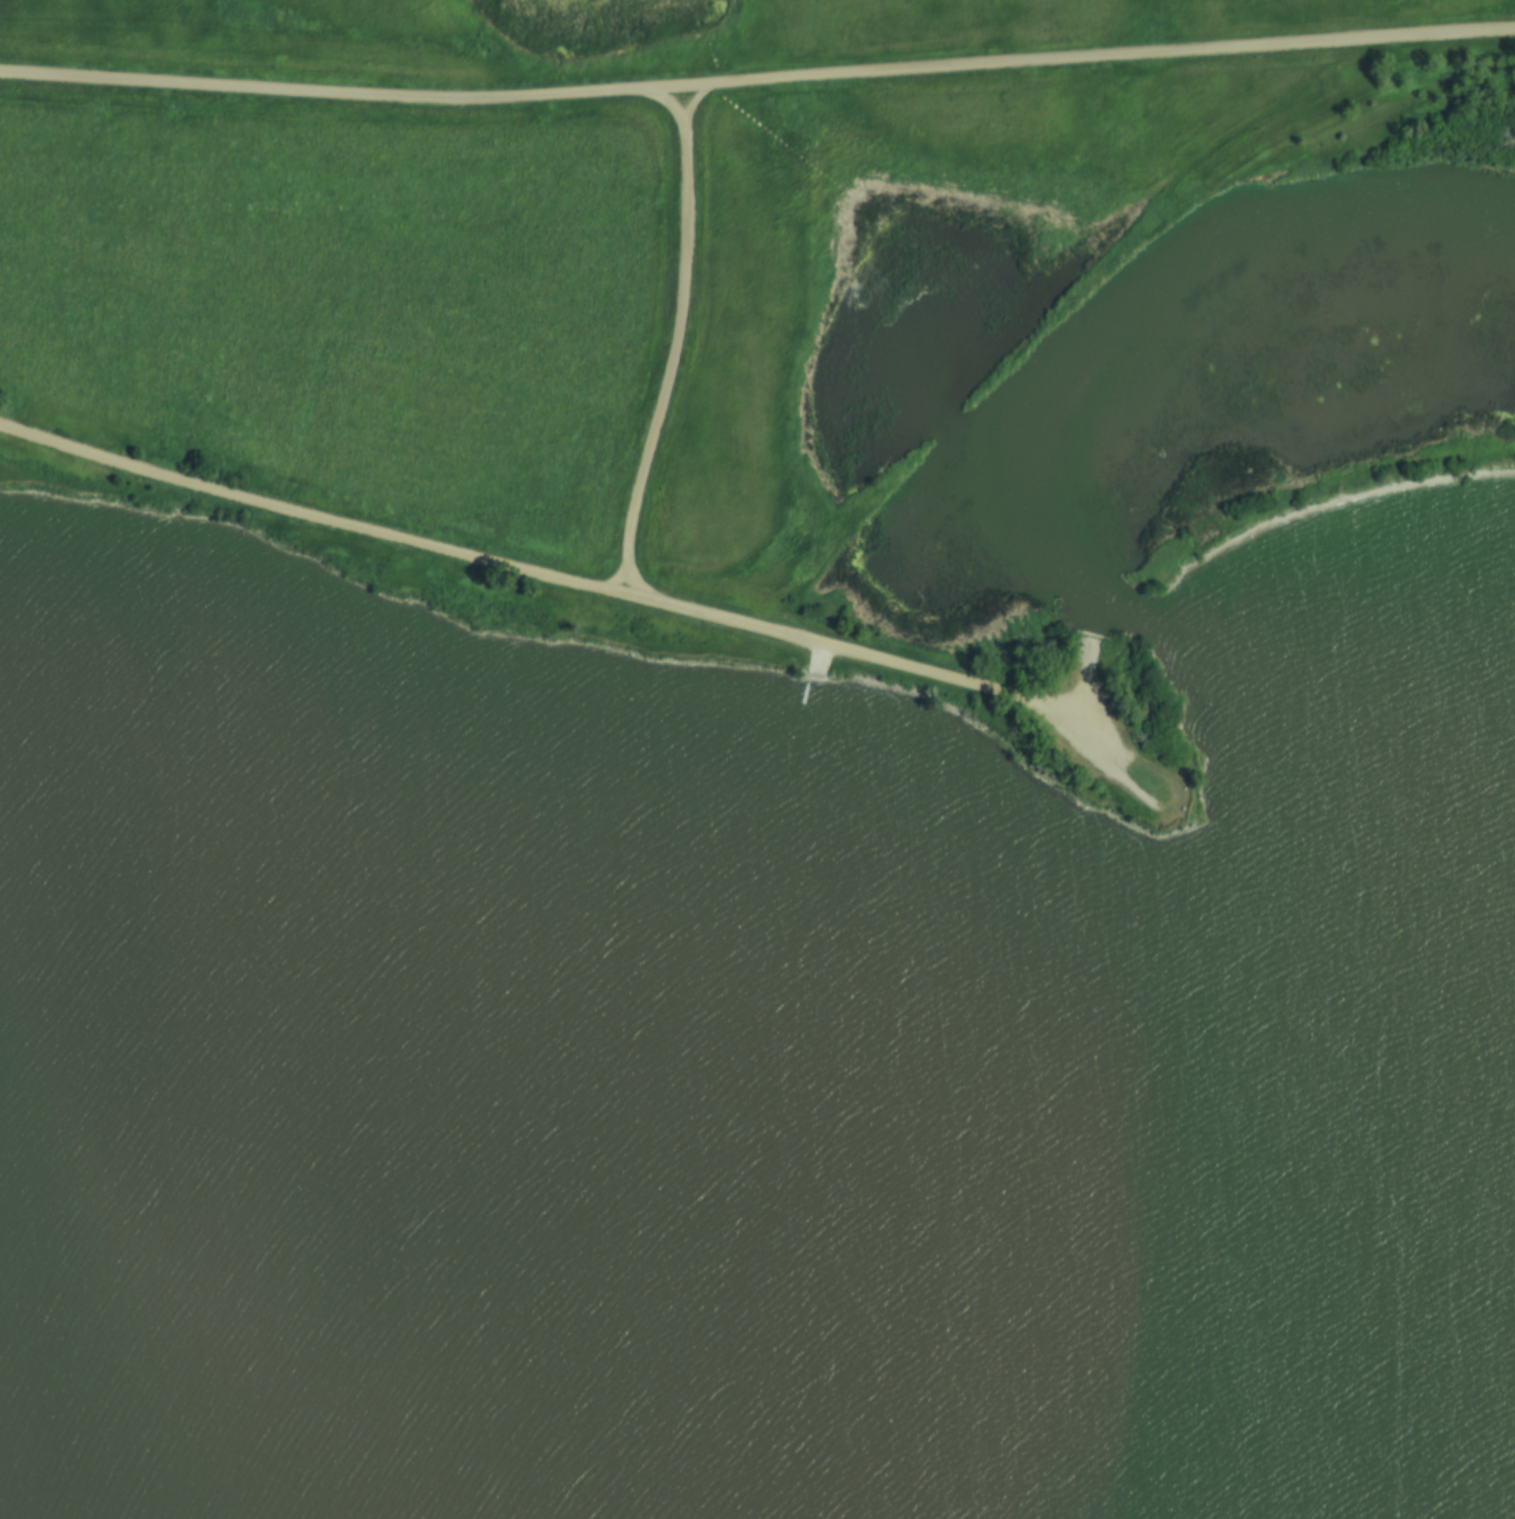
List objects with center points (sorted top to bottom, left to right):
road: (757, 85)
river: (1177, 305)
road: (680, 349)
road: (593, 594)
river: (1334, 648)
road: (819, 667)
road: (1082, 692)
pier: (805, 696)
parking lot: (1087, 734)
river: (757, 1168)

